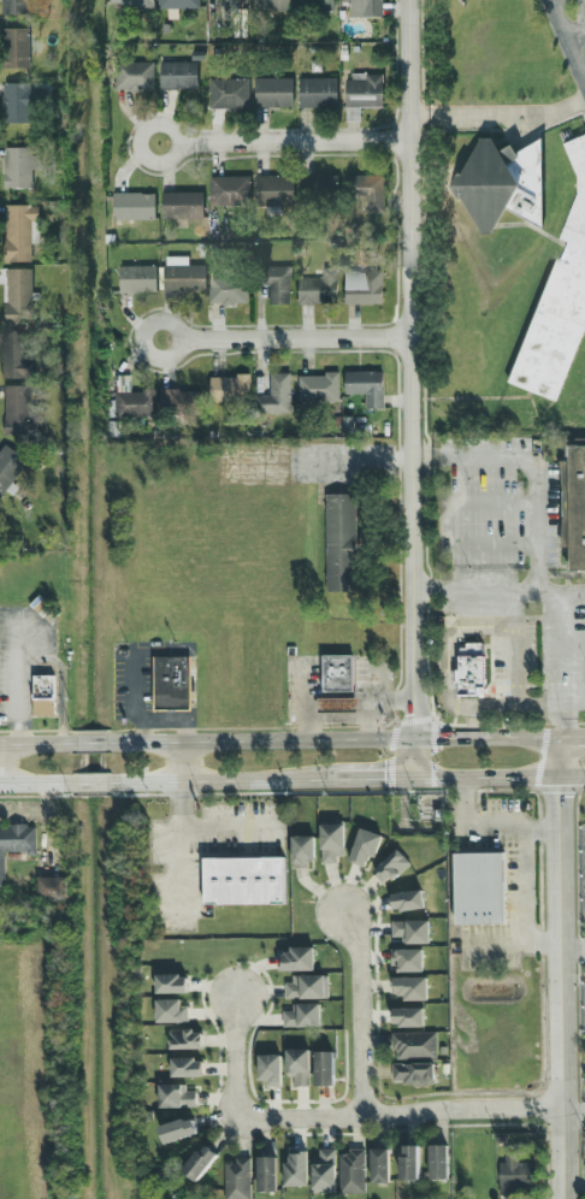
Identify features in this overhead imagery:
building: (128, 1)
building: (175, 2)
building: (313, 4)
building: (268, 5)
building: (12, 6)
building: (364, 7)
road: (575, 28)
road: (569, 37)
building: (13, 46)
road: (584, 72)
building: (176, 73)
building: (131, 75)
building: (271, 90)
building: (315, 90)
building: (226, 91)
building: (359, 93)
building: (14, 100)
road: (498, 112)
road: (286, 140)
building: (16, 165)
building: (497, 182)
building: (319, 183)
building: (226, 188)
building: (272, 188)
building: (364, 188)
building: (179, 202)
building: (131, 205)
building: (18, 230)
building: (181, 273)
building: (135, 277)
building: (277, 283)
building: (319, 287)
building: (362, 287)
building: (227, 290)
building: (16, 295)
building: (560, 296)
road: (286, 338)
building: (18, 355)
road: (412, 368)
building: (366, 386)
building: (231, 388)
building: (318, 388)
building: (277, 395)
building: (132, 400)
building: (181, 402)
building: (17, 409)
building: (8, 467)
road: (533, 467)
road: (491, 501)
road: (445, 502)
building: (573, 507)
building: (341, 543)
road: (491, 547)
road: (497, 593)
road: (565, 666)
building: (469, 671)
road: (518, 672)
building: (337, 673)
road: (19, 679)
road: (61, 683)
building: (171, 683)
building: (43, 695)
road: (134, 698)
road: (575, 703)
building: (344, 705)
road: (479, 705)
road: (171, 722)
traffic signals: (414, 738)
road: (500, 738)
road: (259, 739)
road: (90, 743)
road: (37, 744)
road: (414, 758)
road: (181, 762)
road: (500, 778)
road: (373, 779)
traffic signals: (415, 779)
road: (220, 781)
road: (91, 782)
road: (37, 784)
road: (208, 827)
road: (490, 827)
building: (332, 841)
building: (14, 844)
building: (365, 846)
building: (302, 851)
building: (390, 867)
road: (183, 872)
building: (244, 881)
building: (52, 887)
road: (524, 887)
building: (479, 888)
building: (407, 900)
building: (410, 931)
road: (512, 946)
road: (573, 946)
building: (297, 959)
building: (406, 959)
road: (562, 968)
building: (171, 984)
building: (305, 986)
building: (409, 987)
building: (172, 1011)
road: (357, 1011)
building: (302, 1015)
building: (408, 1017)
building: (185, 1040)
building: (414, 1045)
road: (235, 1057)
building: (187, 1068)
building: (299, 1068)
building: (324, 1069)
building: (270, 1070)
building: (414, 1073)
building: (176, 1097)
road: (400, 1112)
road: (574, 1115)
building: (179, 1130)
building: (201, 1163)
building: (412, 1163)
building: (439, 1163)
building: (380, 1165)
building: (296, 1169)
building: (325, 1171)
building: (353, 1173)
building: (267, 1174)
building: (515, 1175)
building: (238, 1179)

